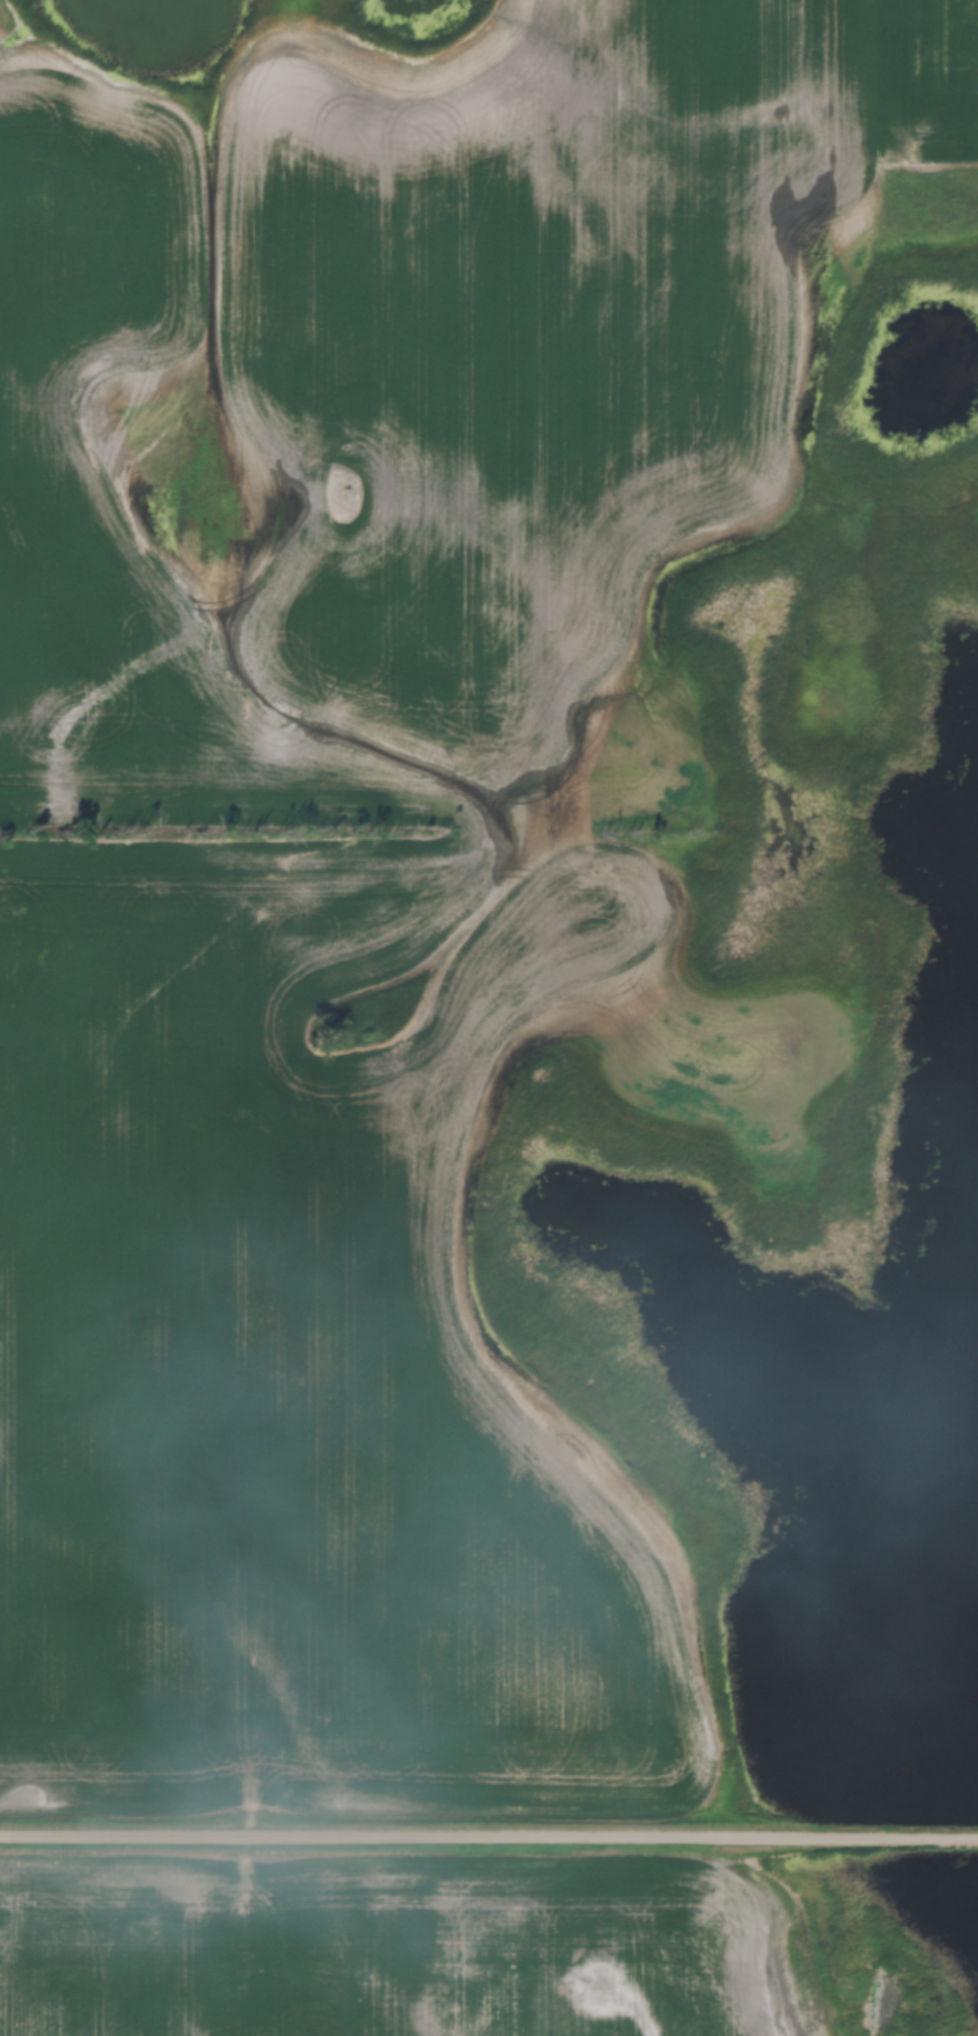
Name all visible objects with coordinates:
road: (489, 1839)

